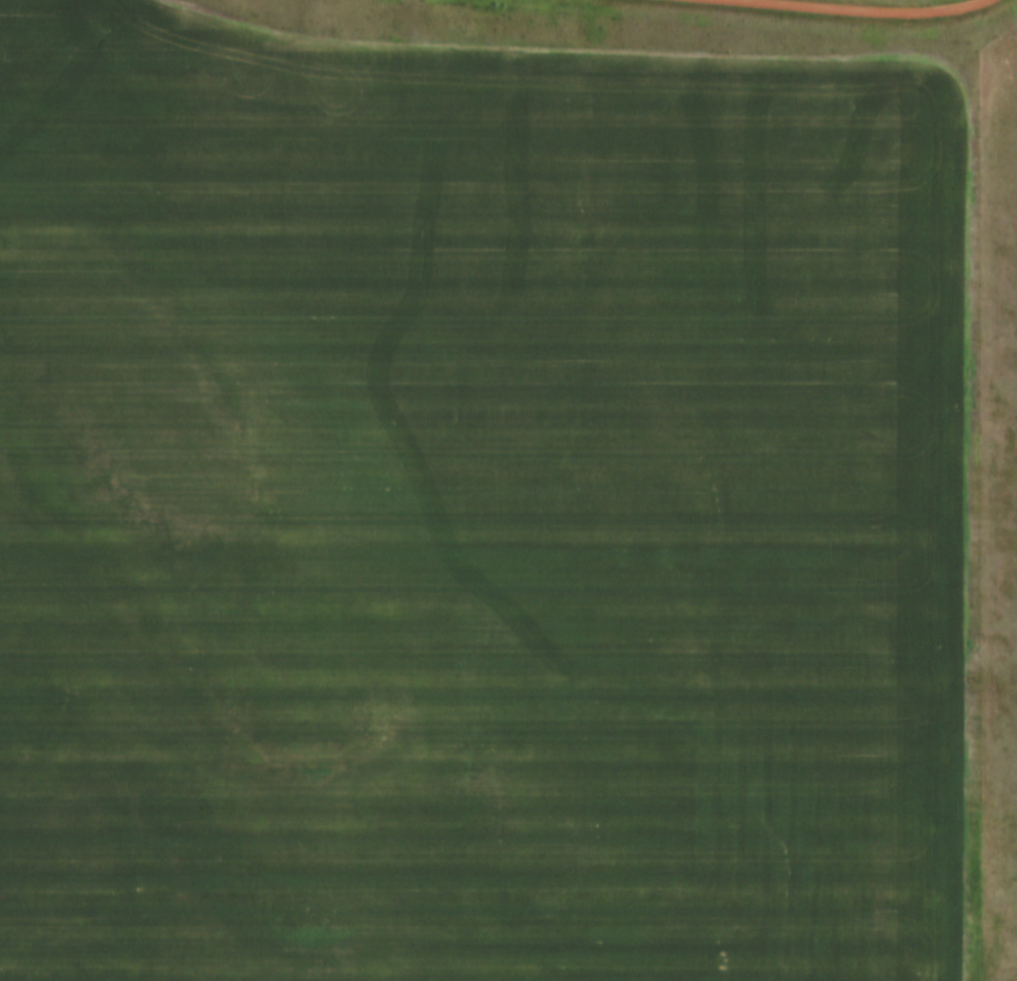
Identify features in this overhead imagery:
road: (994, 25)

